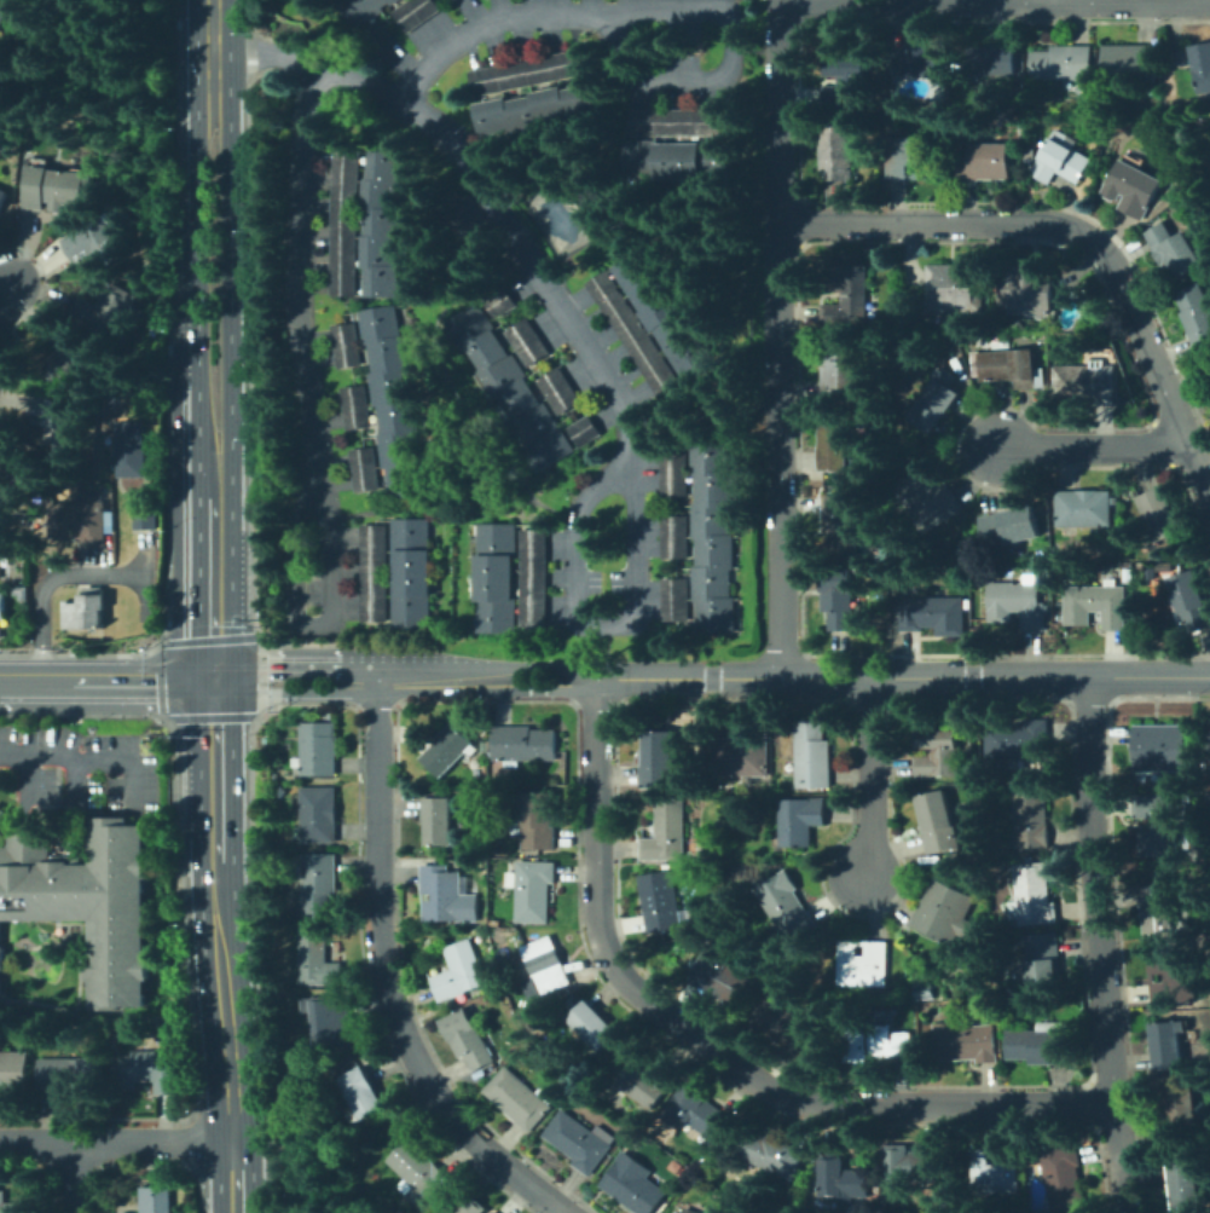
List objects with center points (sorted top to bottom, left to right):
road: (996, 5)
building: (2, 8)
building: (365, 10)
building: (417, 12)
road: (504, 18)
road: (213, 23)
building: (378, 37)
building: (920, 59)
building: (994, 62)
building: (1061, 63)
building: (1129, 63)
building: (1202, 65)
building: (531, 71)
building: (846, 82)
road: (688, 83)
building: (1083, 91)
building: (539, 109)
building: (1018, 120)
building: (681, 122)
building: (948, 143)
building: (839, 152)
building: (910, 158)
building: (1063, 158)
building: (677, 161)
building: (986, 162)
building: (1029, 167)
building: (1134, 187)
building: (54, 189)
building: (2, 197)
road: (196, 209)
building: (347, 223)
building: (386, 223)
road: (1078, 233)
building: (95, 243)
building: (1175, 250)
road: (528, 252)
road: (230, 255)
road: (4, 285)
building: (956, 288)
building: (1027, 290)
building: (849, 298)
building: (504, 302)
building: (109, 308)
building: (665, 311)
building: (1197, 317)
building: (636, 334)
road: (782, 339)
building: (529, 342)
building: (348, 346)
building: (68, 354)
building: (1011, 368)
building: (1208, 368)
building: (841, 370)
building: (1087, 382)
building: (513, 386)
building: (560, 391)
building: (394, 402)
building: (938, 406)
building: (357, 408)
building: (58, 422)
road: (196, 422)
road: (312, 429)
building: (585, 432)
building: (835, 447)
building: (133, 449)
road: (1095, 449)
building: (365, 469)
building: (675, 474)
building: (6, 476)
road: (215, 481)
building: (105, 489)
building: (931, 497)
building: (1085, 508)
building: (1160, 514)
building: (146, 519)
building: (80, 521)
building: (843, 525)
building: (1012, 526)
building: (675, 537)
building: (713, 537)
building: (1, 554)
building: (973, 554)
road: (574, 555)
road: (237, 566)
building: (1165, 567)
building: (412, 572)
building: (376, 573)
building: (496, 577)
building: (533, 578)
road: (50, 583)
road: (215, 587)
building: (22, 593)
building: (838, 597)
building: (676, 599)
building: (1192, 599)
building: (1020, 603)
building: (1098, 606)
building: (87, 610)
building: (4, 611)
building: (933, 614)
building: (1163, 626)
road: (300, 665)
road: (546, 669)
road: (35, 677)
road: (144, 677)
traffic signals: (216, 677)
road: (995, 677)
road: (689, 678)
road: (438, 682)
road: (548, 692)
road: (296, 693)
building: (1020, 739)
building: (525, 743)
building: (1208, 744)
building: (1163, 747)
building: (318, 749)
building: (450, 751)
building: (938, 753)
building: (1206, 755)
building: (741, 756)
building: (812, 756)
road: (91, 761)
building: (658, 761)
road: (873, 778)
road: (77, 789)
building: (280, 793)
road: (25, 795)
road: (196, 798)
building: (318, 815)
building: (2, 816)
building: (1032, 819)
building: (439, 820)
building: (537, 820)
building: (801, 820)
road: (2, 821)
building: (938, 822)
building: (1159, 825)
building: (666, 832)
building: (666, 866)
building: (319, 882)
building: (534, 891)
building: (447, 895)
building: (1035, 895)
building: (88, 902)
building: (662, 902)
building: (789, 908)
building: (1159, 908)
building: (944, 912)
building: (291, 923)
building: (497, 923)
road: (220, 945)
road: (1100, 945)
building: (317, 957)
building: (864, 963)
building: (1046, 964)
building: (545, 966)
building: (459, 971)
building: (723, 977)
building: (1175, 977)
road: (386, 981)
building: (926, 992)
building: (526, 1012)
building: (329, 1020)
building: (594, 1024)
building: (531, 1026)
building: (787, 1026)
building: (521, 1030)
building: (467, 1038)
building: (967, 1041)
building: (879, 1042)
building: (1170, 1044)
building: (1042, 1046)
road: (712, 1049)
building: (291, 1064)
building: (15, 1070)
building: (146, 1072)
building: (71, 1073)
building: (647, 1079)
building: (363, 1092)
building: (520, 1098)
building: (700, 1113)
building: (1179, 1114)
road: (116, 1142)
building: (578, 1142)
building: (771, 1154)
building: (914, 1162)
building: (418, 1171)
building: (998, 1172)
road: (71, 1178)
building: (1066, 1178)
building: (844, 1180)
building: (1185, 1183)
building: (633, 1188)
building: (156, 1200)
building: (16, 1205)
building: (475, 1207)
building: (401, 1211)
building: (689, 1211)
building: (494, 1212)

